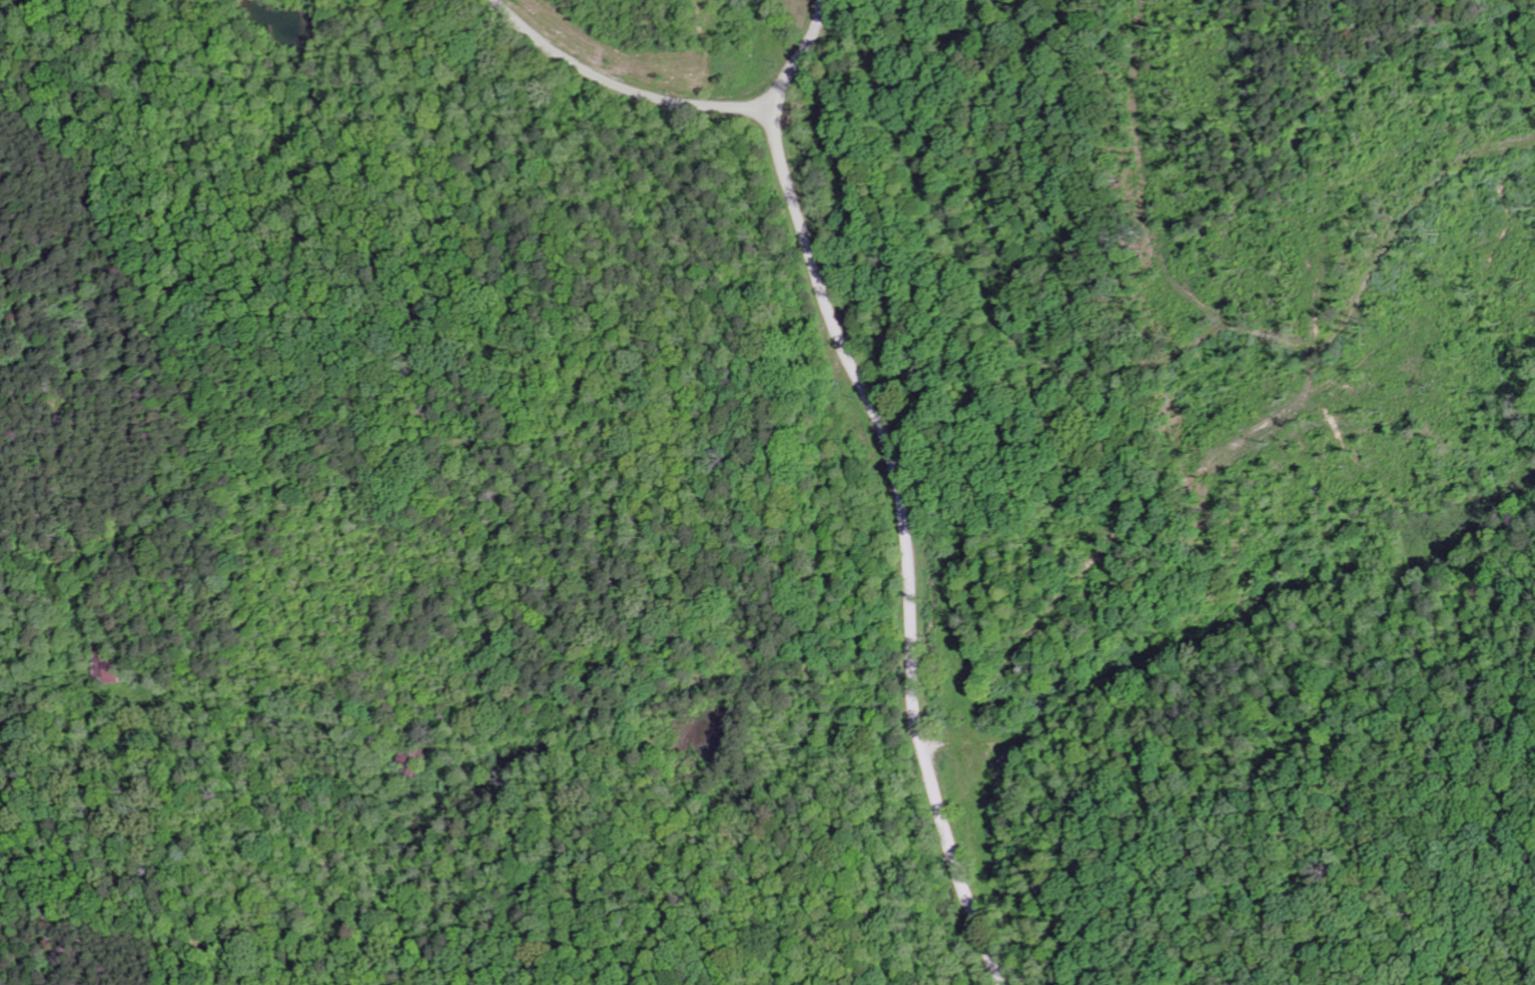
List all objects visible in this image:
road: (623, 91)
road: (897, 484)

